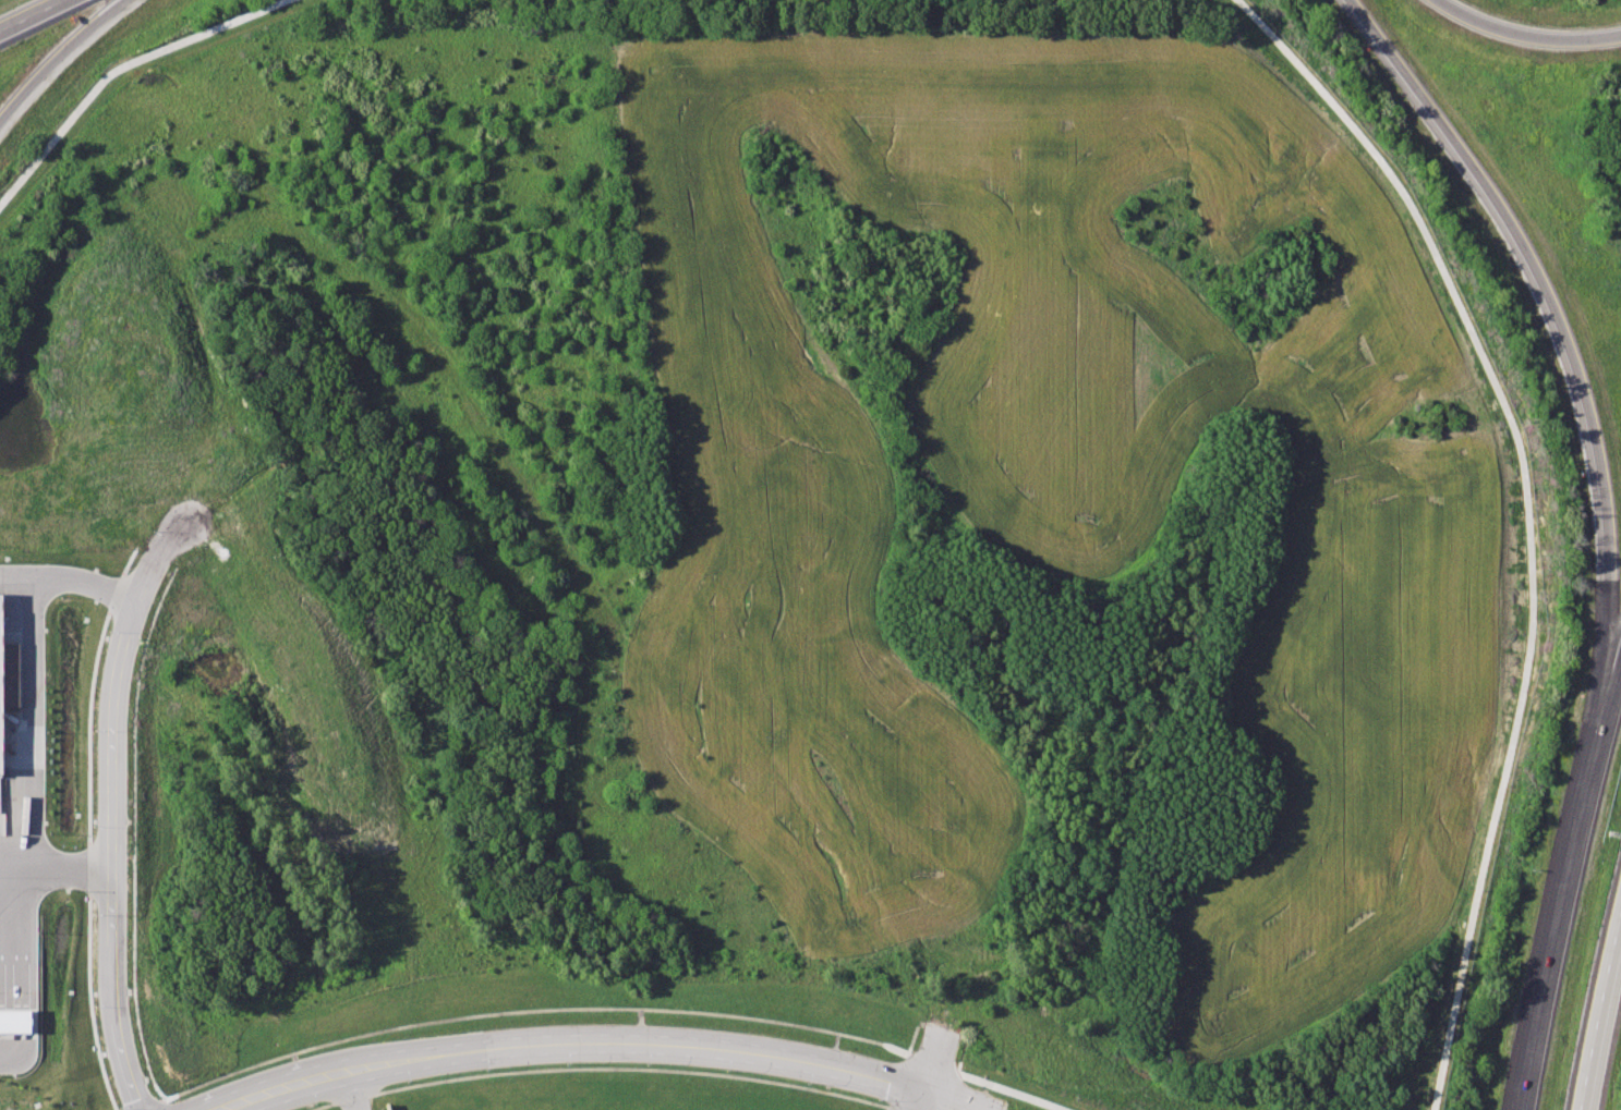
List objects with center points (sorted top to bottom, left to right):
road: (29, 14)
road: (1524, 35)
road: (56, 57)
road: (117, 66)
road: (1555, 316)
crop: (1055, 481)
road: (1526, 516)
road: (69, 580)
building: (0, 674)
road: (1619, 679)
road: (28, 722)
road: (110, 805)
parking lot: (1, 859)
road: (55, 869)
road: (1564, 898)
building: (27, 997)
gas station: (27, 997)
road: (1601, 1014)
road: (607, 1045)
road: (933, 1074)
road: (971, 1077)
road: (354, 1093)

